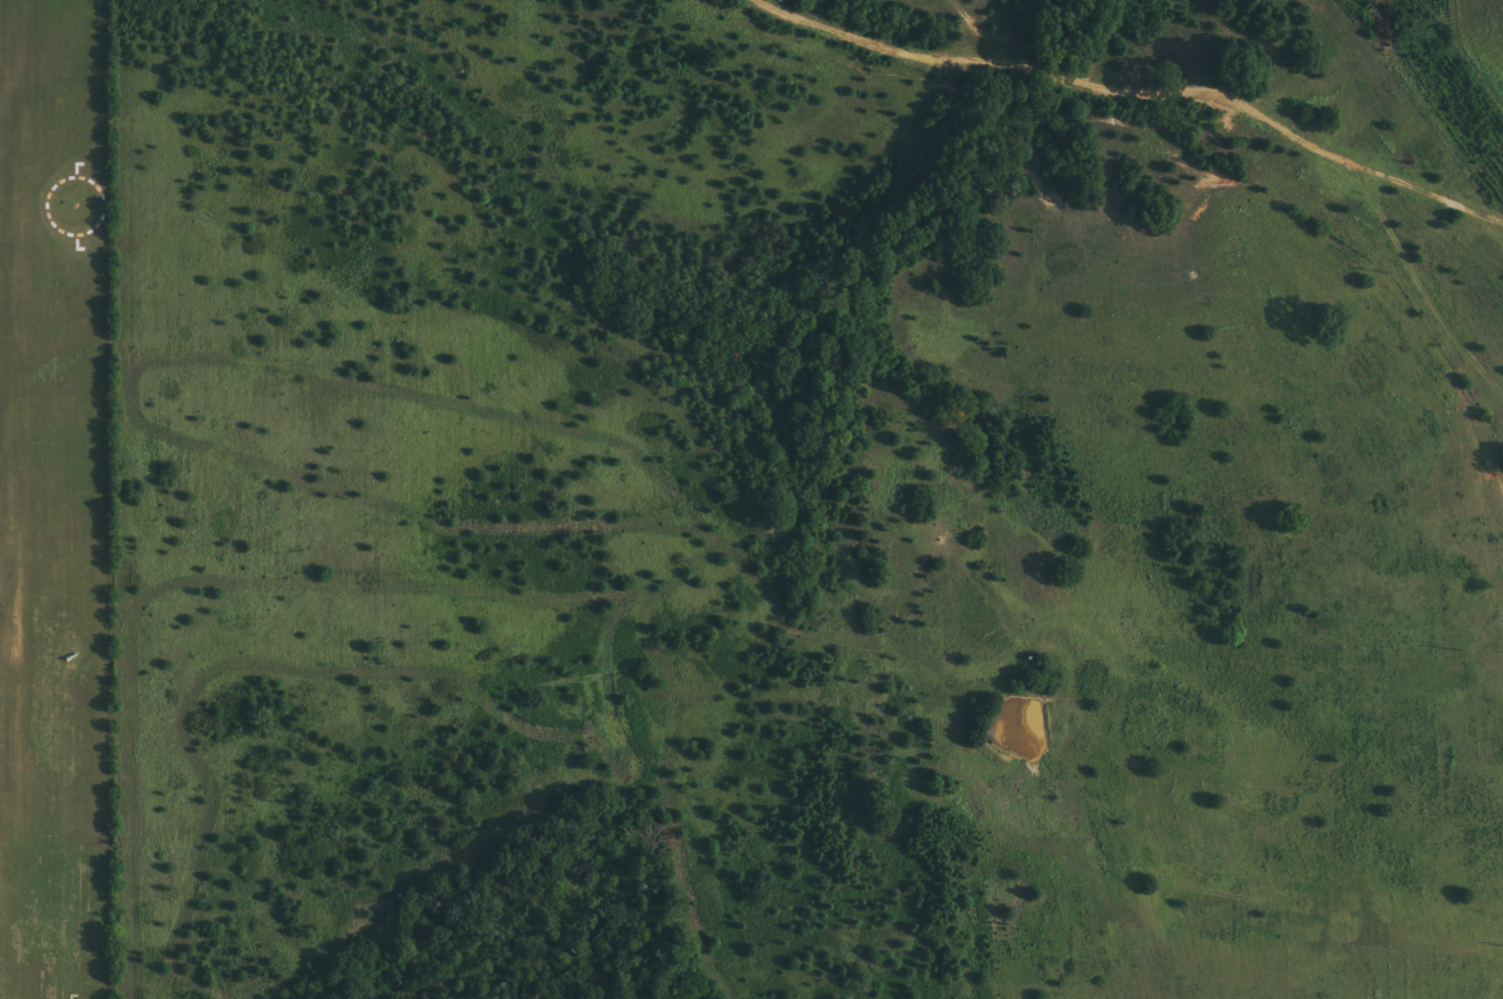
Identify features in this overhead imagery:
road: (800, 28)
power tower: (1383, 271)
power tower: (1457, 649)

